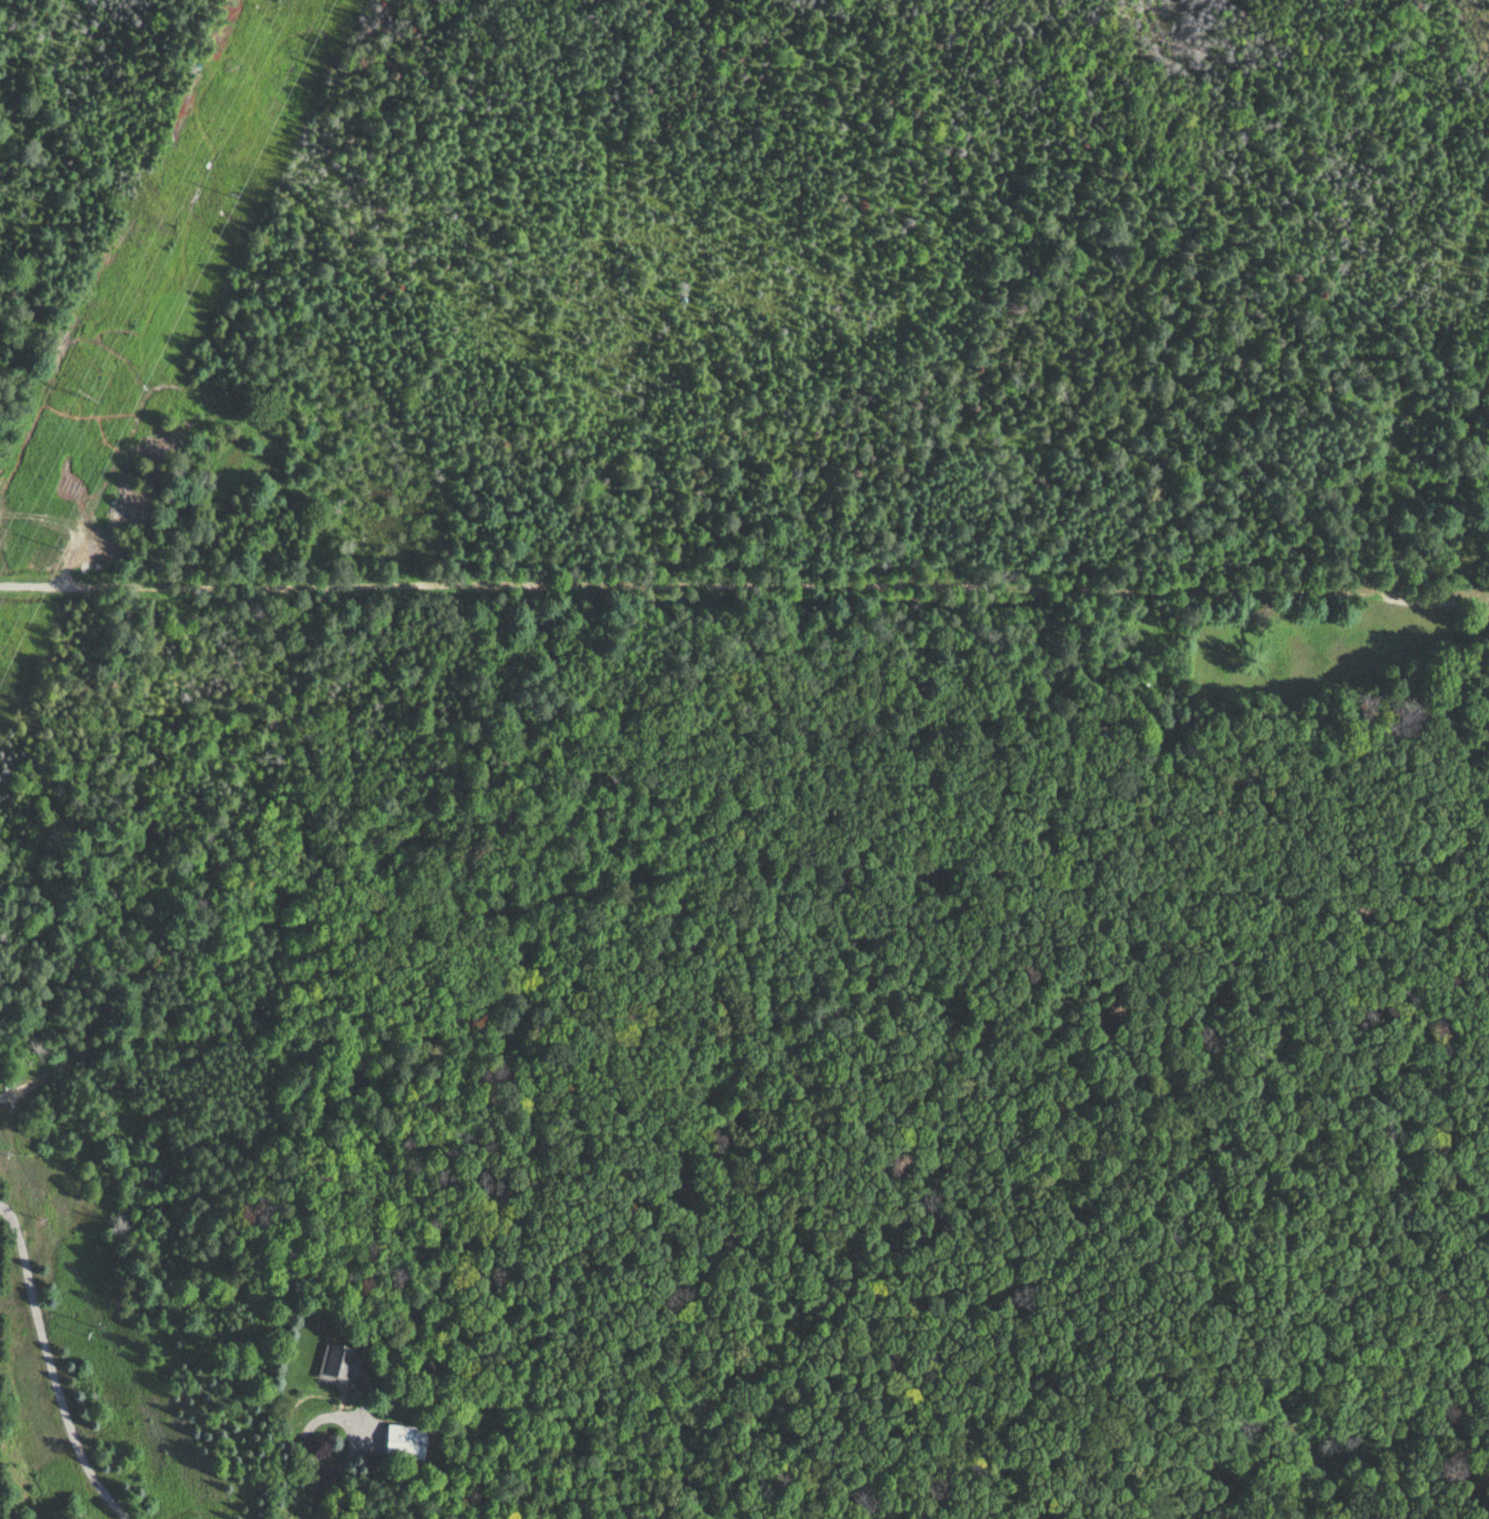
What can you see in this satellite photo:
river: (1487, 2)
power tower: (87, 387)
road: (725, 867)
building: (337, 1364)
building: (407, 1441)

